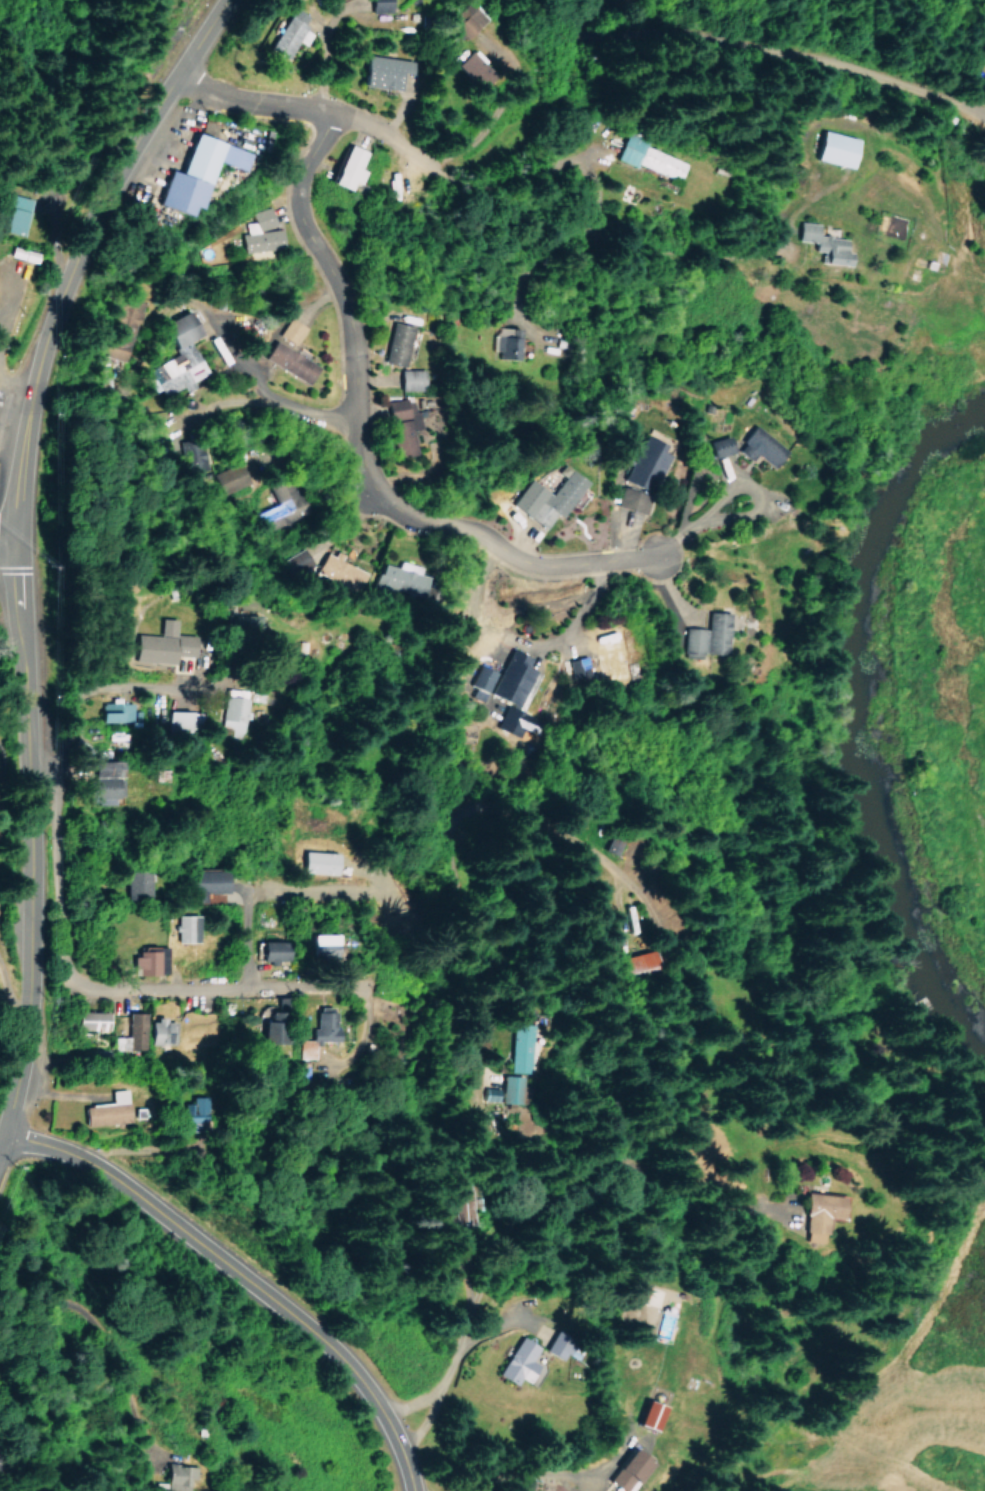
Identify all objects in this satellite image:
building: (370, 4)
building: (460, 17)
building: (284, 31)
building: (467, 67)
building: (378, 69)
road: (283, 104)
building: (834, 148)
building: (647, 157)
building: (347, 166)
building: (195, 171)
building: (15, 214)
building: (261, 232)
building: (822, 243)
building: (21, 253)
road: (74, 258)
building: (122, 328)
building: (291, 330)
building: (505, 341)
building: (396, 343)
building: (179, 357)
building: (288, 361)
building: (410, 380)
road: (266, 395)
building: (402, 425)
road: (357, 444)
building: (720, 445)
building: (760, 446)
building: (192, 453)
building: (641, 475)
building: (229, 478)
road: (734, 488)
building: (547, 497)
building: (282, 505)
road: (355, 510)
road: (7, 548)
building: (297, 562)
building: (340, 571)
building: (401, 577)
building: (241, 623)
building: (708, 635)
building: (162, 643)
building: (578, 666)
building: (511, 678)
road: (117, 687)
building: (233, 708)
building: (114, 710)
building: (183, 721)
building: (512, 721)
building: (103, 781)
road: (55, 809)
road: (28, 849)
building: (139, 881)
building: (206, 883)
road: (38, 892)
building: (186, 927)
building: (323, 945)
building: (274, 951)
building: (148, 960)
building: (638, 961)
road: (167, 981)
building: (93, 1020)
building: (268, 1028)
building: (161, 1031)
building: (316, 1031)
building: (131, 1033)
building: (518, 1047)
building: (510, 1082)
building: (102, 1110)
building: (185, 1111)
building: (463, 1203)
building: (811, 1214)
road: (241, 1276)
building: (553, 1347)
building: (517, 1361)
road: (435, 1391)
building: (648, 1415)
building: (627, 1470)
road: (510, 1473)
building: (176, 1477)

